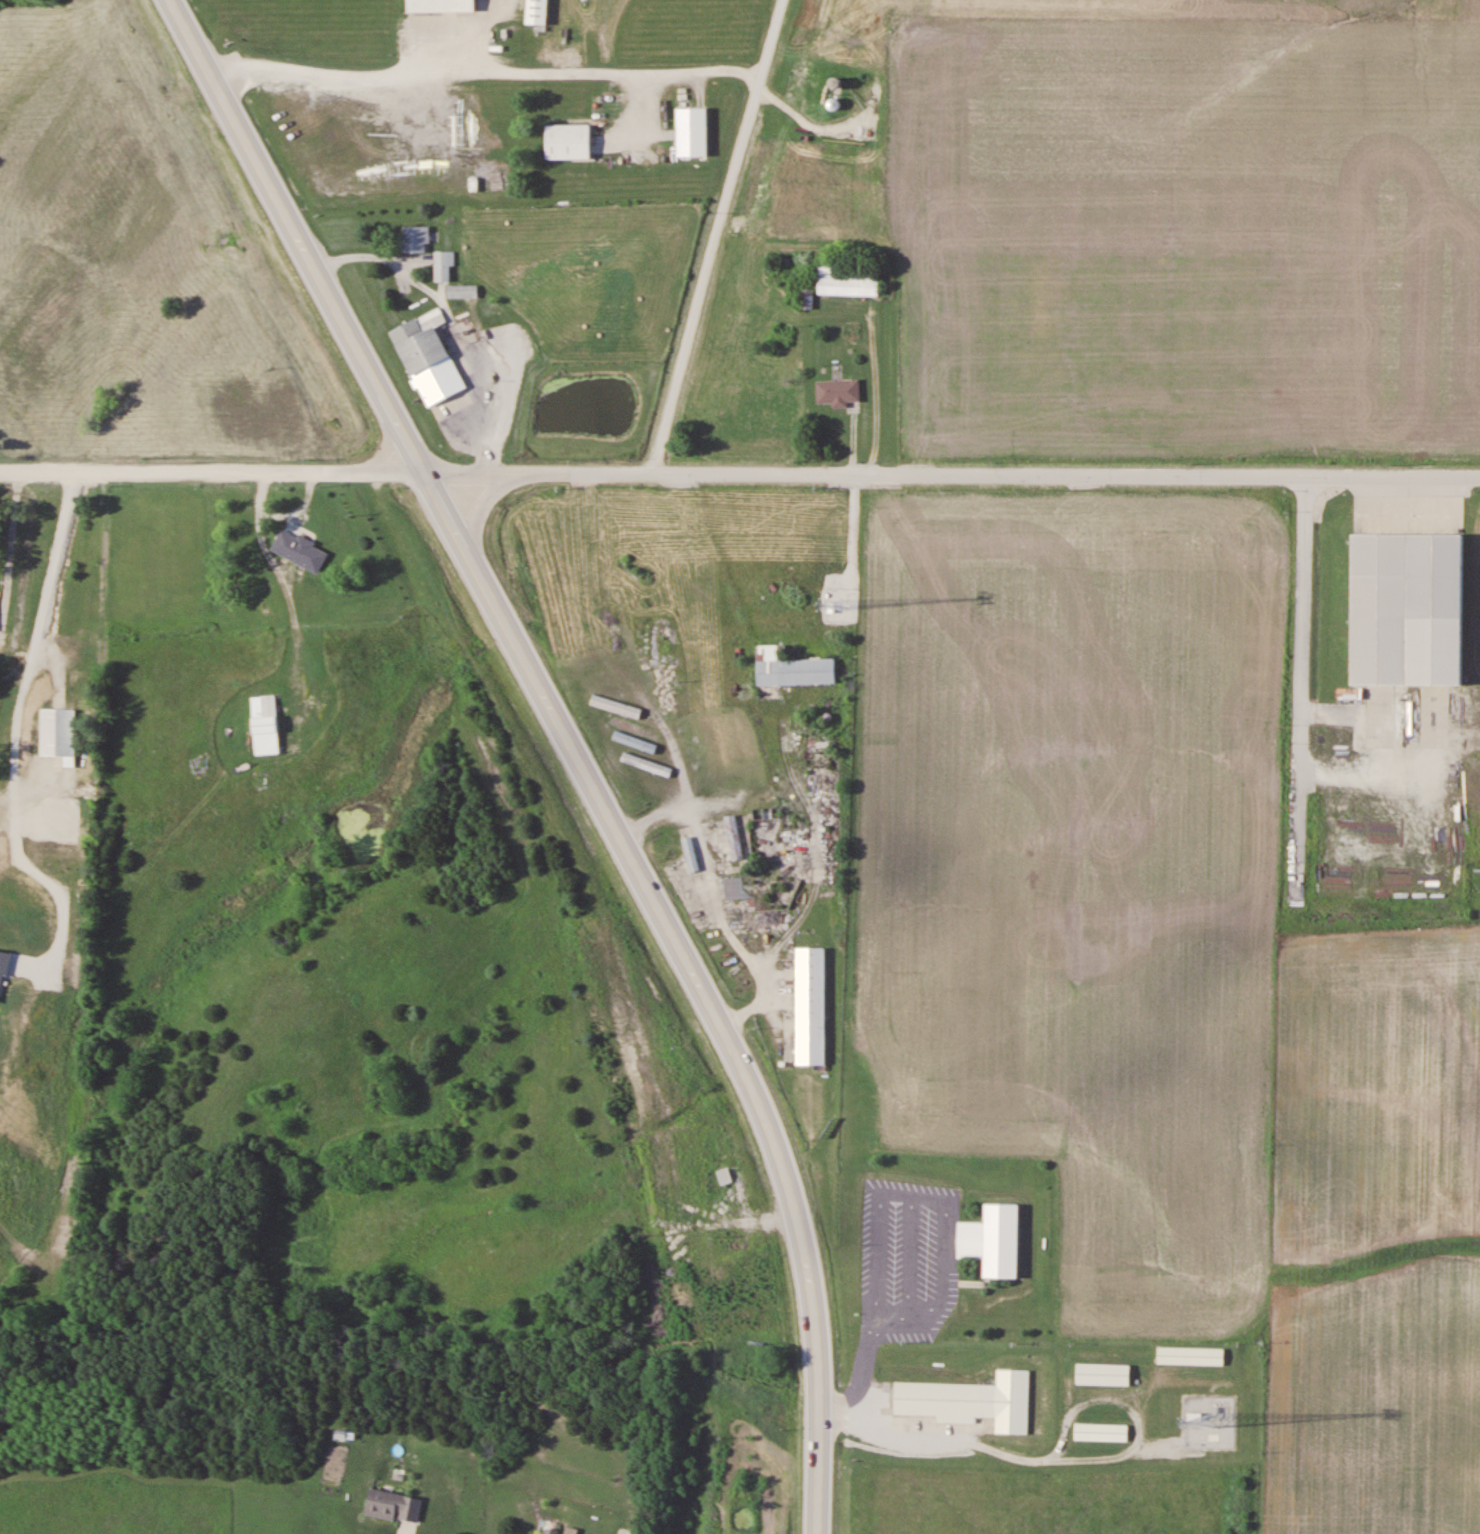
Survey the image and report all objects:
building: (441, 5)
building: (537, 12)
road: (487, 76)
building: (833, 104)
building: (692, 132)
building: (568, 141)
road: (716, 237)
building: (416, 239)
building: (443, 265)
building: (849, 281)
building: (462, 292)
building: (428, 358)
building: (838, 392)
road: (388, 447)
road: (739, 474)
road: (479, 508)
building: (307, 556)
building: (1412, 603)
building: (792, 668)
road: (1302, 683)
building: (267, 717)
building: (55, 735)
road: (568, 744)
building: (732, 807)
building: (733, 838)
building: (734, 888)
building: (811, 1006)
building: (725, 1177)
building: (994, 1234)
building: (1190, 1356)
building: (1102, 1375)
building: (969, 1393)
building: (1100, 1433)
building: (395, 1506)
building: (551, 1531)

